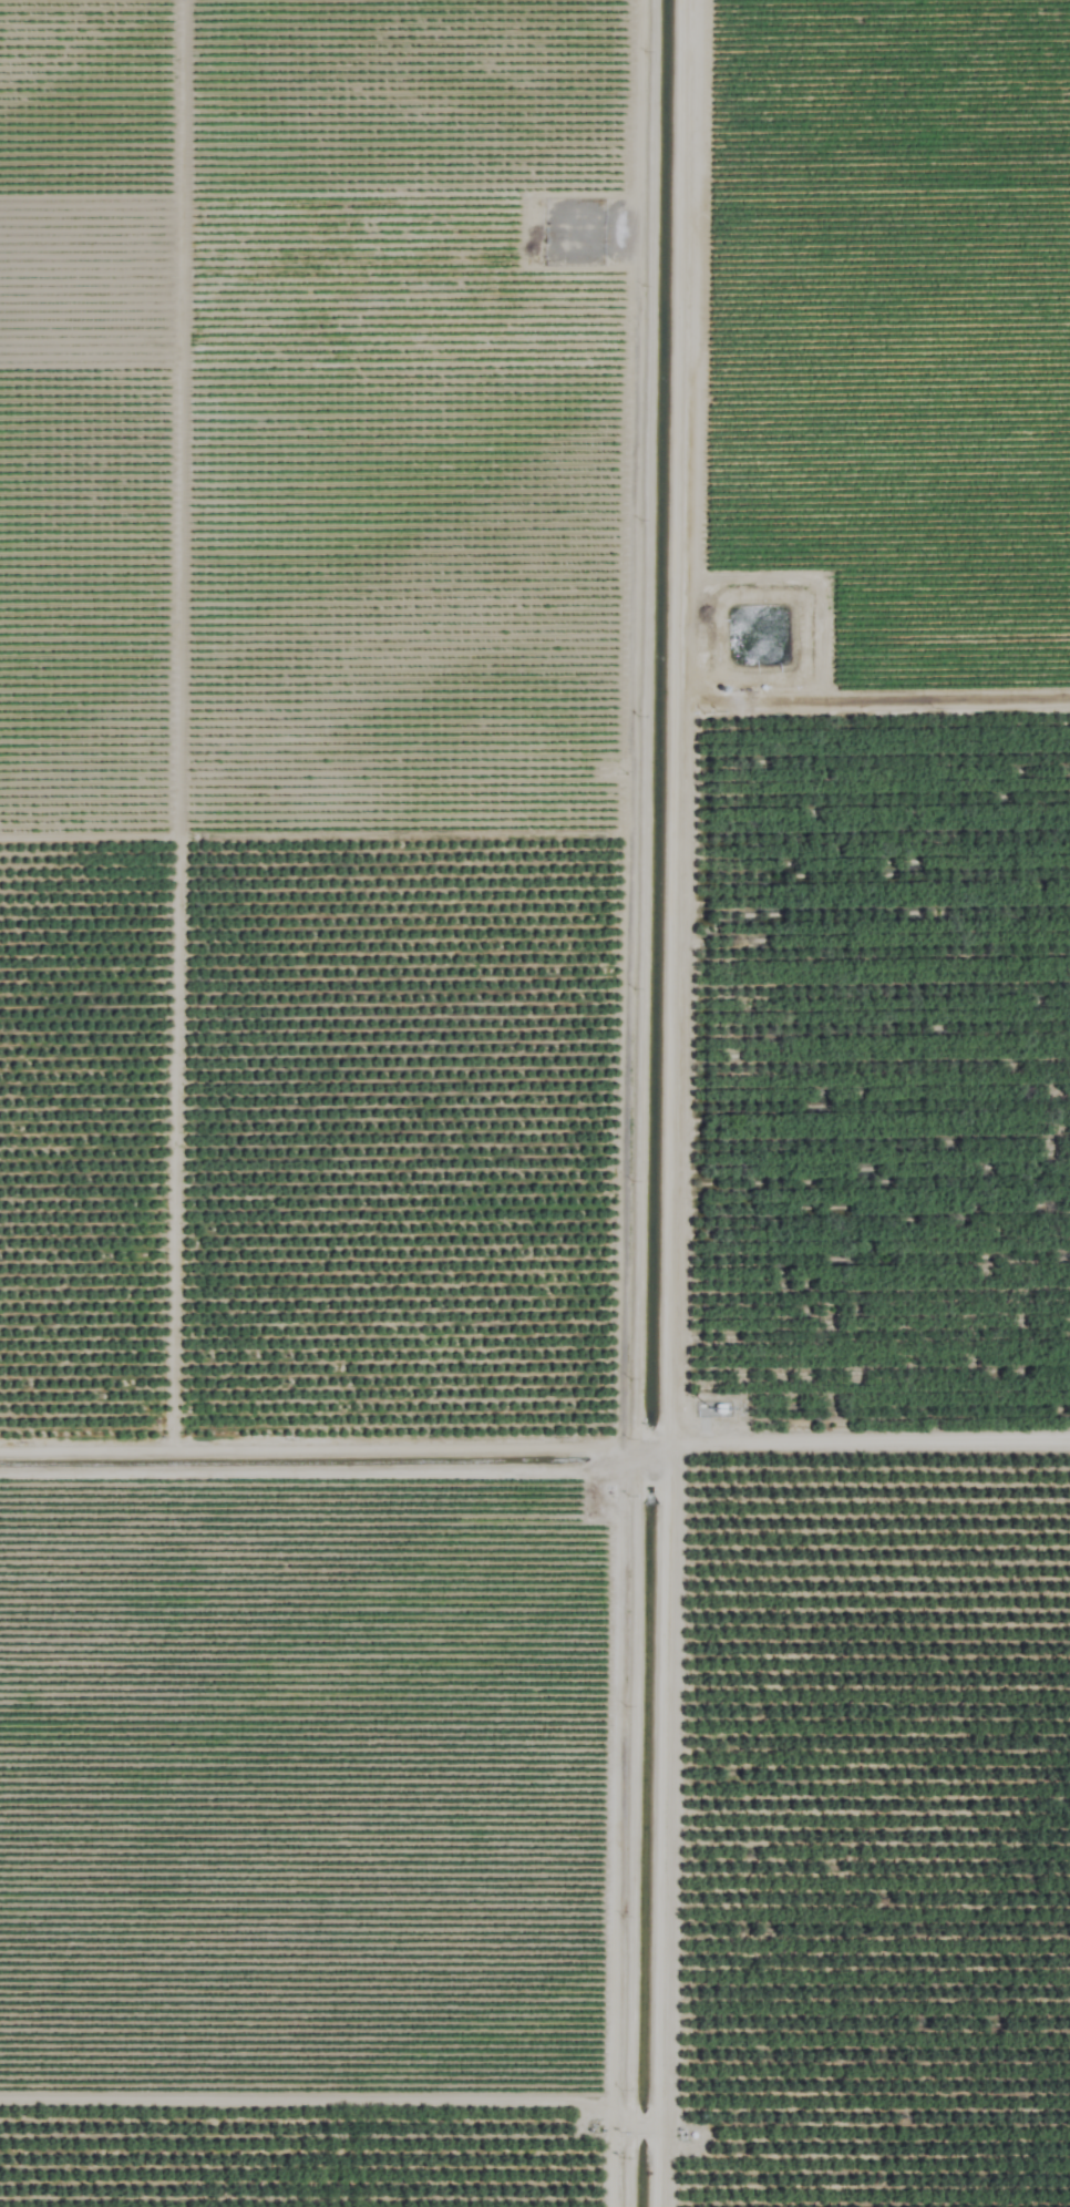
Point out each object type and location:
road: (899, 1451)

